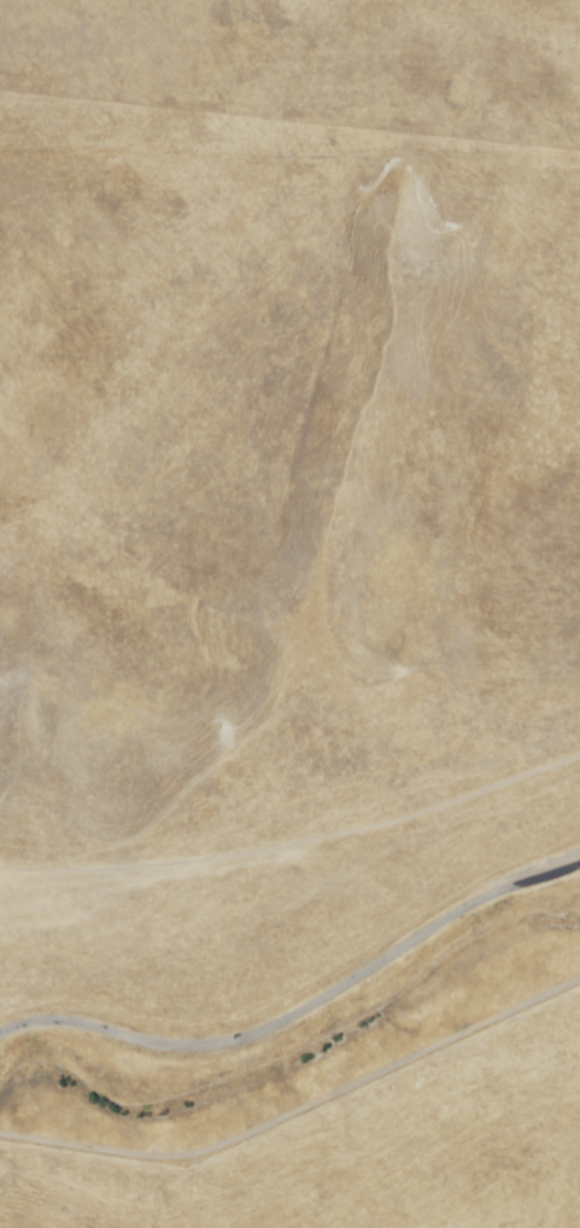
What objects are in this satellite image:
road: (303, 1028)

